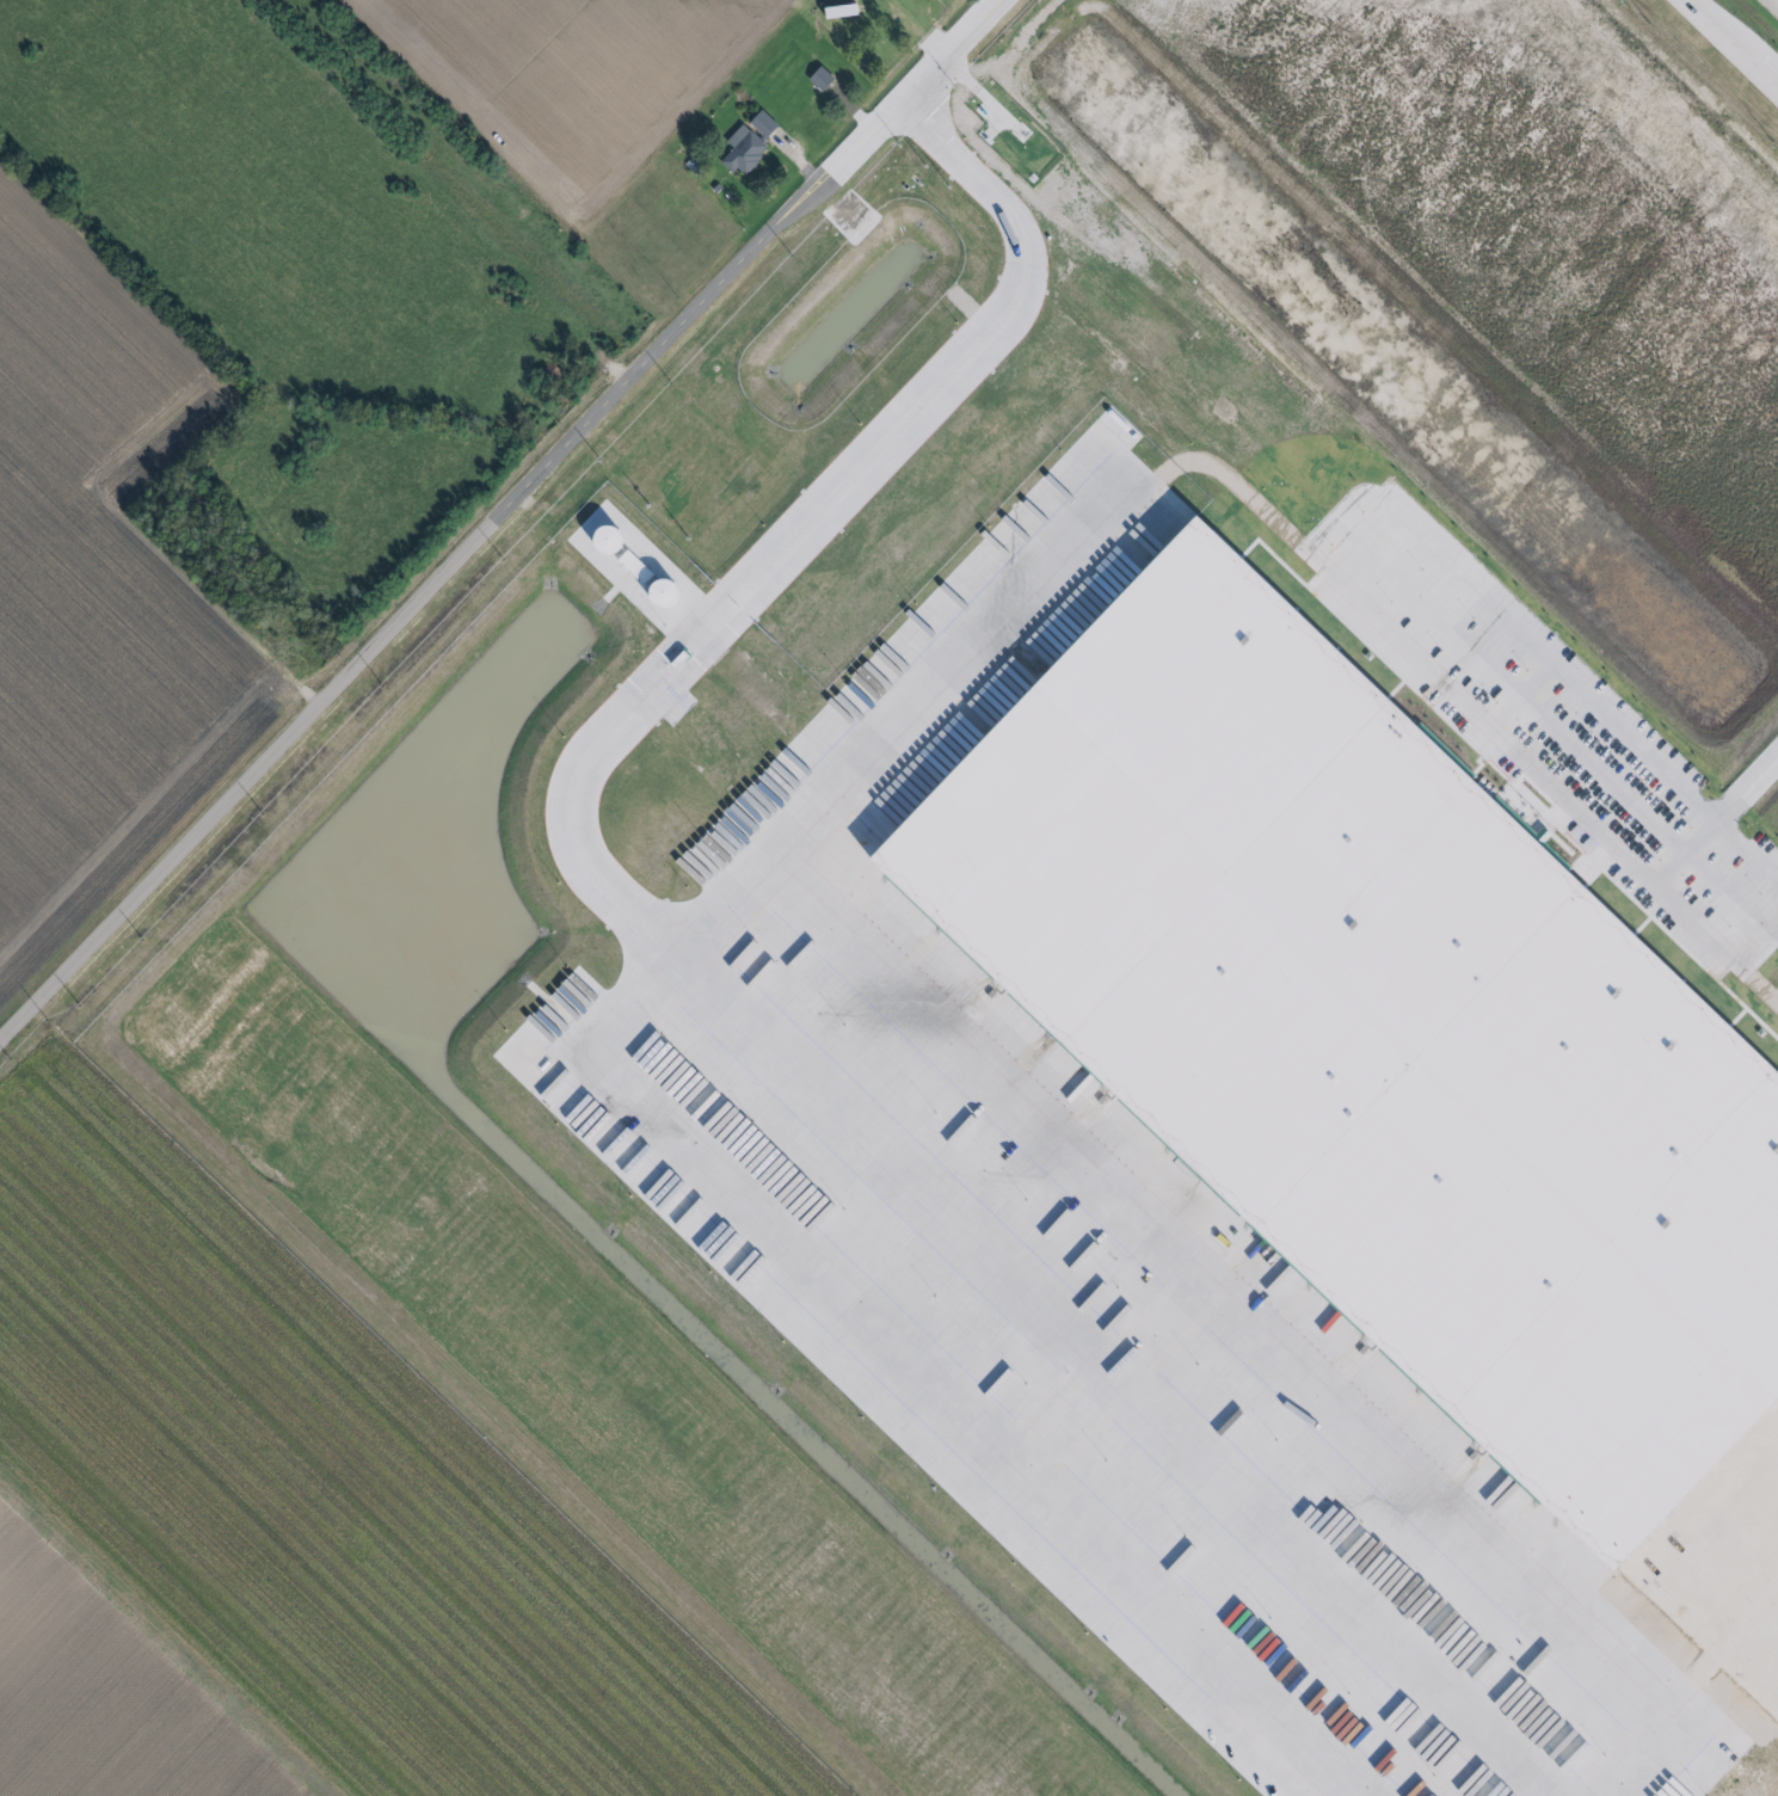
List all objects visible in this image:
building: (857, 0)
road: (1718, 55)
building: (823, 78)
building: (746, 149)
building: (679, 490)
road: (494, 519)
road: (810, 523)
road: (1355, 539)
road: (1315, 553)
road: (946, 669)
road: (1521, 699)
road: (1554, 728)
road: (1746, 789)
road: (1746, 855)
road: (1712, 946)
building: (1397, 1062)
road: (1198, 1279)
road: (1112, 1374)
road: (913, 1376)

